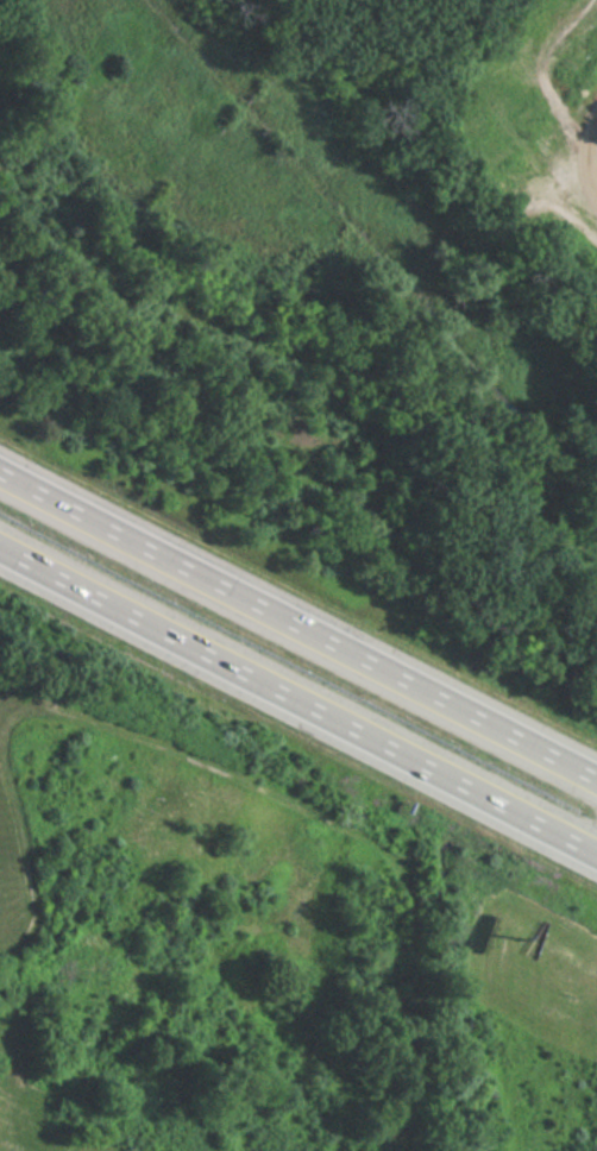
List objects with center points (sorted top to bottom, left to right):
road: (298, 625)
road: (298, 705)
road: (595, 854)

